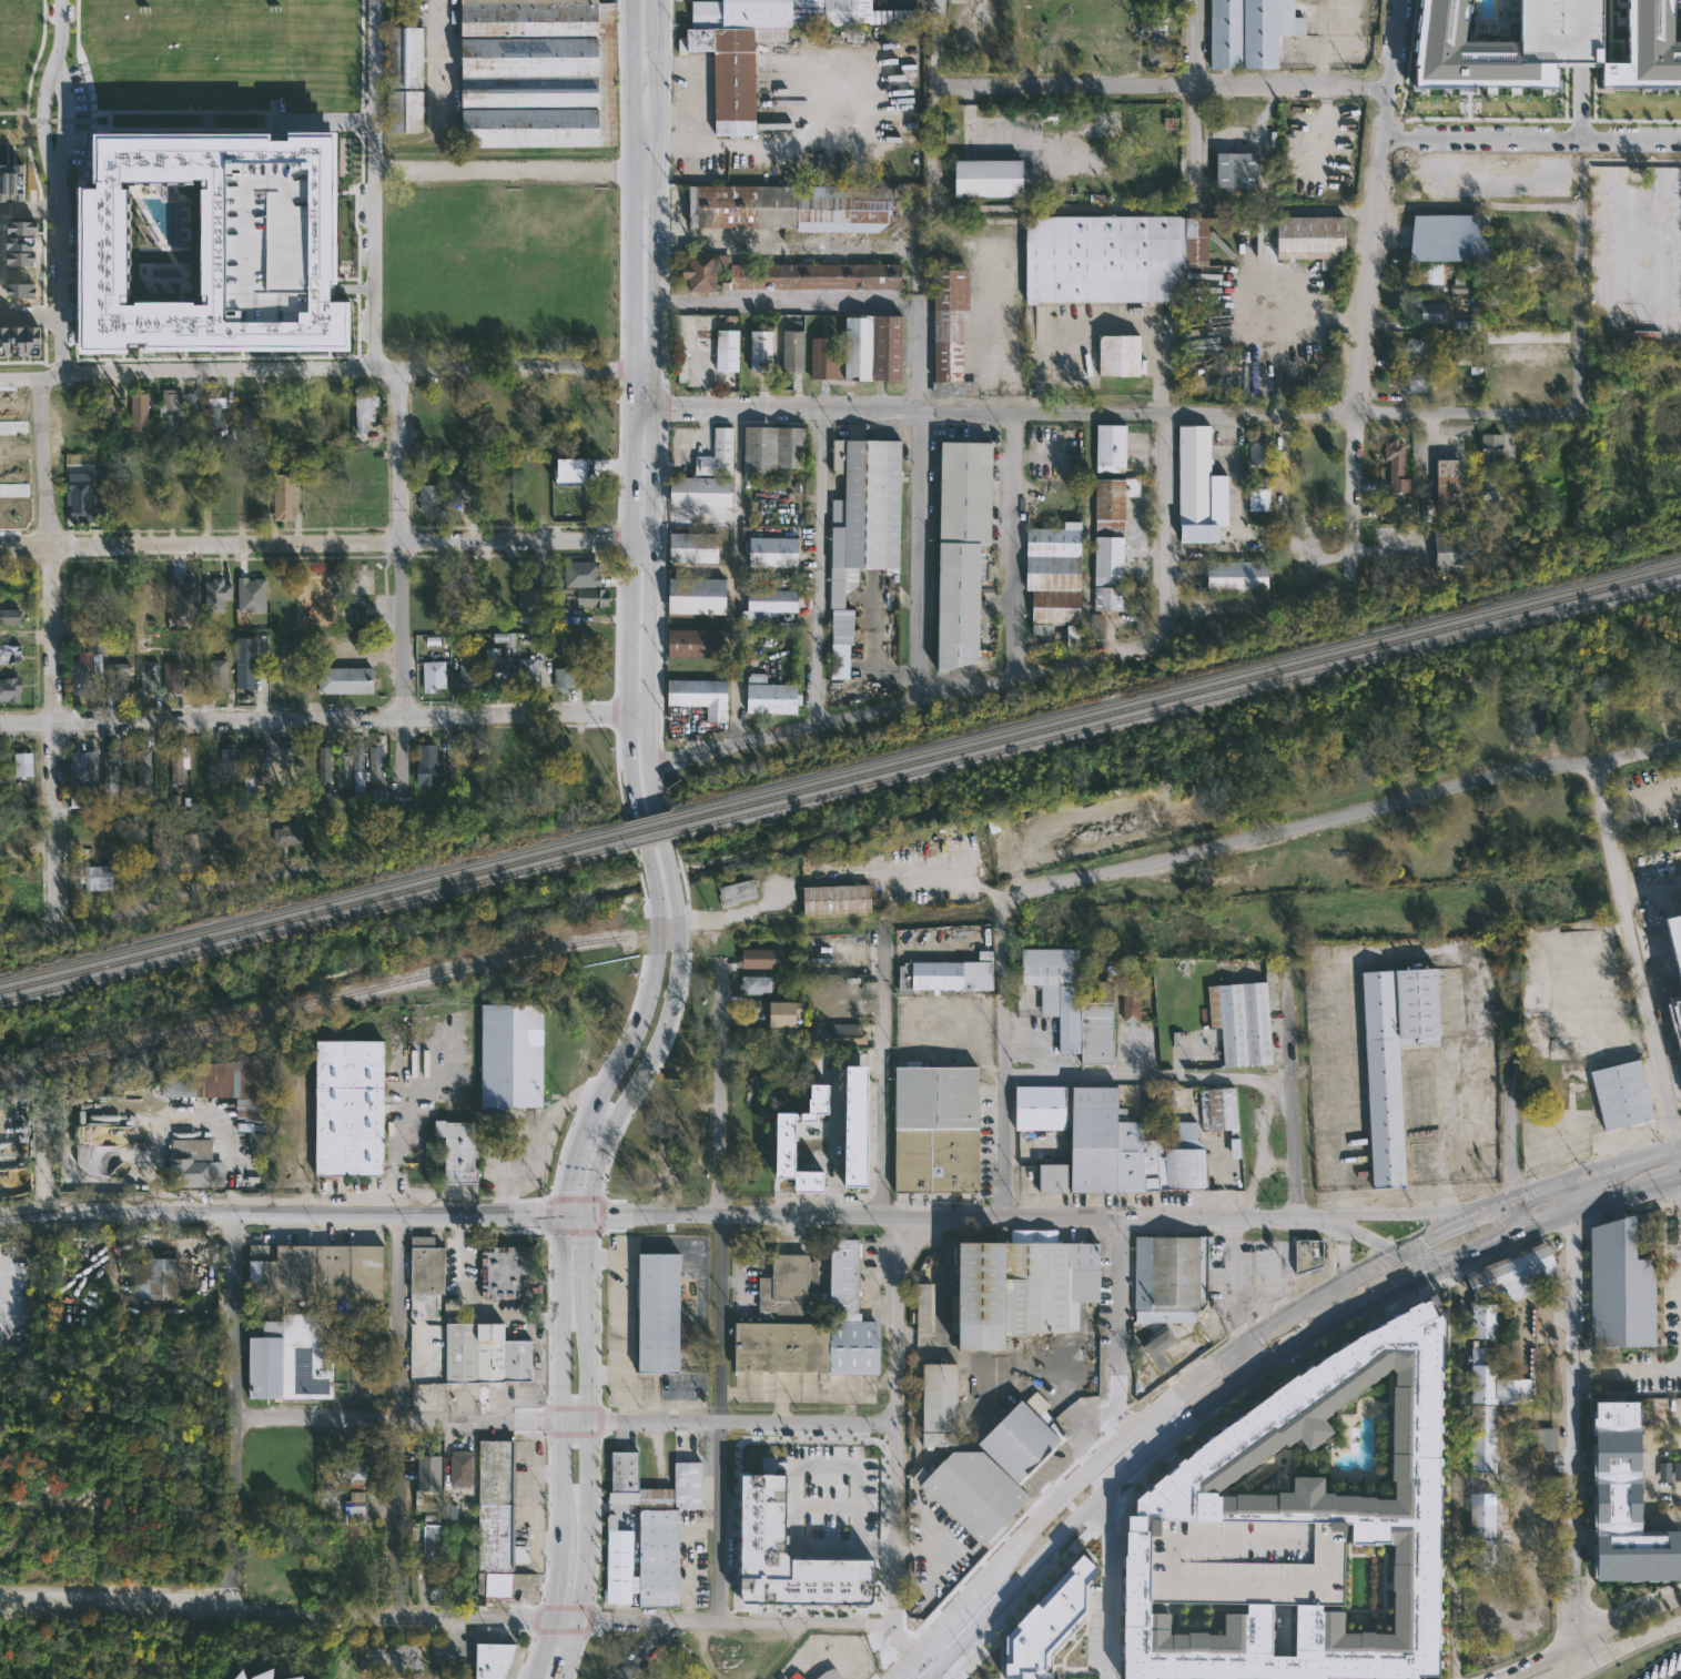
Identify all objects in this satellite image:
road: (657, 0)
road: (925, 2)
building: (783, 12)
building: (1247, 31)
building: (1560, 31)
parking garage: (1560, 31)
road: (656, 36)
building: (1648, 47)
building: (1467, 51)
building: (1157, 53)
building: (407, 55)
road: (439, 68)
building: (733, 72)
building: (538, 73)
road: (640, 74)
road: (692, 88)
road: (1164, 89)
road: (934, 93)
road: (1197, 105)
building: (407, 111)
road: (327, 121)
road: (1533, 141)
road: (745, 143)
road: (1632, 160)
railway: (304, 163)
building: (1232, 169)
building: (988, 179)
building: (17, 180)
building: (3, 181)
road: (373, 185)
road: (55, 186)
building: (790, 206)
road: (30, 210)
road: (1150, 211)
building: (1306, 236)
building: (1446, 236)
building: (1532, 237)
building: (266, 241)
parking garage: (266, 241)
building: (104, 243)
road: (773, 243)
building: (1107, 257)
park: (495, 271)
building: (1428, 273)
building: (779, 274)
building: (1540, 279)
road: (1583, 291)
road: (1369, 292)
road: (786, 301)
building: (1422, 315)
road: (30, 318)
building: (948, 334)
building: (4, 341)
building: (872, 347)
building: (1418, 348)
building: (764, 350)
building: (730, 351)
building: (793, 352)
building: (1114, 355)
building: (823, 357)
road: (629, 362)
road: (640, 368)
building: (1603, 371)
road: (314, 372)
building: (1548, 382)
building: (1415, 384)
building: (583, 397)
building: (194, 407)
building: (217, 407)
building: (366, 407)
building: (142, 408)
building: (105, 411)
building: (172, 412)
road: (652, 414)
road: (1097, 414)
building: (249, 417)
road: (11, 433)
building: (1105, 447)
building: (772, 448)
building: (1256, 449)
building: (718, 454)
building: (1490, 465)
building: (573, 471)
building: (1396, 482)
building: (1447, 482)
building: (1196, 486)
building: (466, 489)
road: (11, 492)
building: (703, 492)
building: (1258, 493)
building: (285, 496)
building: (432, 498)
building: (82, 499)
road: (1292, 499)
road: (919, 503)
building: (317, 506)
building: (185, 507)
road: (1165, 519)
building: (859, 524)
road: (639, 542)
building: (1107, 542)
road: (314, 545)
building: (696, 547)
building: (960, 547)
road: (1014, 547)
building: (769, 552)
building: (1452, 552)
road: (819, 568)
building: (597, 569)
building: (1401, 575)
building: (1234, 576)
road: (735, 578)
building: (1050, 579)
building: (435, 585)
building: (500, 591)
building: (253, 593)
building: (219, 594)
building: (698, 596)
building: (587, 597)
building: (528, 601)
building: (184, 604)
building: (766, 605)
road: (403, 607)
building: (11, 611)
building: (692, 643)
building: (589, 647)
road: (43, 651)
building: (11, 655)
building: (88, 665)
building: (246, 665)
building: (499, 669)
building: (534, 670)
building: (174, 672)
building: (220, 674)
building: (469, 674)
building: (119, 675)
building: (435, 676)
building: (152, 677)
building: (566, 678)
building: (348, 680)
railway: (1175, 686)
building: (11, 690)
building: (699, 696)
building: (769, 696)
railway: (1176, 696)
road: (915, 702)
railway: (1177, 705)
road: (638, 712)
road: (313, 721)
building: (232, 759)
building: (181, 763)
building: (324, 763)
building: (358, 763)
building: (24, 765)
building: (429, 766)
building: (2, 768)
building: (75, 768)
building: (144, 768)
building: (255, 768)
building: (94, 771)
building: (110, 775)
road: (1354, 815)
railway: (647, 818)
railway: (649, 828)
railway: (651, 837)
building: (219, 838)
building: (286, 838)
building: (162, 848)
building: (192, 849)
building: (98, 876)
road: (222, 882)
road: (1652, 887)
building: (740, 892)
building: (832, 898)
railway: (312, 903)
railway: (313, 911)
railway: (944, 918)
railway: (314, 921)
road: (662, 935)
building: (1673, 947)
parking garage: (1673, 947)
road: (1639, 951)
road: (1420, 952)
building: (759, 957)
railway: (431, 972)
building: (944, 974)
building: (758, 984)
building: (850, 987)
road: (678, 994)
building: (1070, 1002)
building: (1128, 1003)
building: (1680, 1005)
building: (776, 1013)
building: (1237, 1021)
building: (843, 1033)
building: (756, 1036)
road: (1004, 1050)
building: (515, 1053)
building: (1390, 1056)
road: (1510, 1066)
road: (1148, 1079)
building: (229, 1081)
building: (1617, 1093)
building: (818, 1098)
road: (1293, 1099)
building: (354, 1106)
building: (1035, 1106)
building: (1216, 1110)
building: (935, 1127)
road: (395, 1132)
road: (535, 1135)
building: (790, 1136)
building: (265, 1144)
building: (462, 1149)
building: (1117, 1150)
building: (196, 1163)
road: (568, 1172)
road: (1593, 1173)
road: (1667, 1183)
road: (1444, 1195)
road: (1338, 1201)
road: (1587, 1205)
road: (1402, 1208)
road: (281, 1212)
traffic signals: (564, 1215)
traffic signals: (591, 1215)
road: (1512, 1216)
road: (931, 1217)
road: (1451, 1226)
road: (1350, 1228)
road: (1574, 1241)
road: (1474, 1245)
road: (1345, 1248)
road: (591, 1250)
building: (1303, 1253)
traffic signals: (1398, 1254)
road: (1412, 1262)
building: (429, 1265)
traffic signals: (1427, 1270)
building: (320, 1272)
building: (510, 1273)
building: (1513, 1273)
building: (156, 1278)
road: (722, 1281)
building: (1619, 1285)
building: (1015, 1288)
building: (1165, 1289)
road: (897, 1299)
road: (466, 1306)
building: (787, 1306)
building: (922, 1306)
road: (1329, 1306)
building: (657, 1312)
road: (621, 1316)
building: (1480, 1321)
road: (1331, 1322)
building: (1522, 1323)
road: (1117, 1331)
road: (1250, 1339)
road: (78, 1341)
building: (488, 1354)
building: (302, 1361)
road: (1234, 1370)
road: (1628, 1370)
building: (1481, 1374)
road: (564, 1377)
road: (234, 1392)
road: (405, 1392)
road: (621, 1398)
road: (1221, 1399)
building: (939, 1404)
road: (1073, 1412)
road: (565, 1423)
building: (1532, 1436)
road: (1130, 1448)
road: (590, 1452)
building: (991, 1465)
building: (361, 1469)
building: (444, 1478)
road: (793, 1484)
road: (1574, 1485)
building: (1480, 1496)
building: (1623, 1500)
building: (356, 1507)
road: (1045, 1513)
building: (499, 1520)
building: (661, 1524)
building: (1288, 1534)
building: (433, 1539)
building: (763, 1539)
road: (1064, 1544)
road: (920, 1548)
building: (621, 1566)
road: (564, 1580)
road: (1106, 1587)
road: (130, 1598)
road: (317, 1611)
road: (455, 1620)
road: (567, 1620)
road: (738, 1620)
building: (1047, 1624)
road: (938, 1630)
road: (1588, 1636)
road: (1617, 1647)
road: (448, 1649)
road: (540, 1649)
road: (574, 1649)
road: (637, 1650)
building: (495, 1660)
building: (832, 1675)
building: (796, 1676)
building: (260, 1677)
road: (1679, 1677)
building: (292, 1678)
building: (806, 1678)
road: (895, 1678)
road: (897, 1678)

